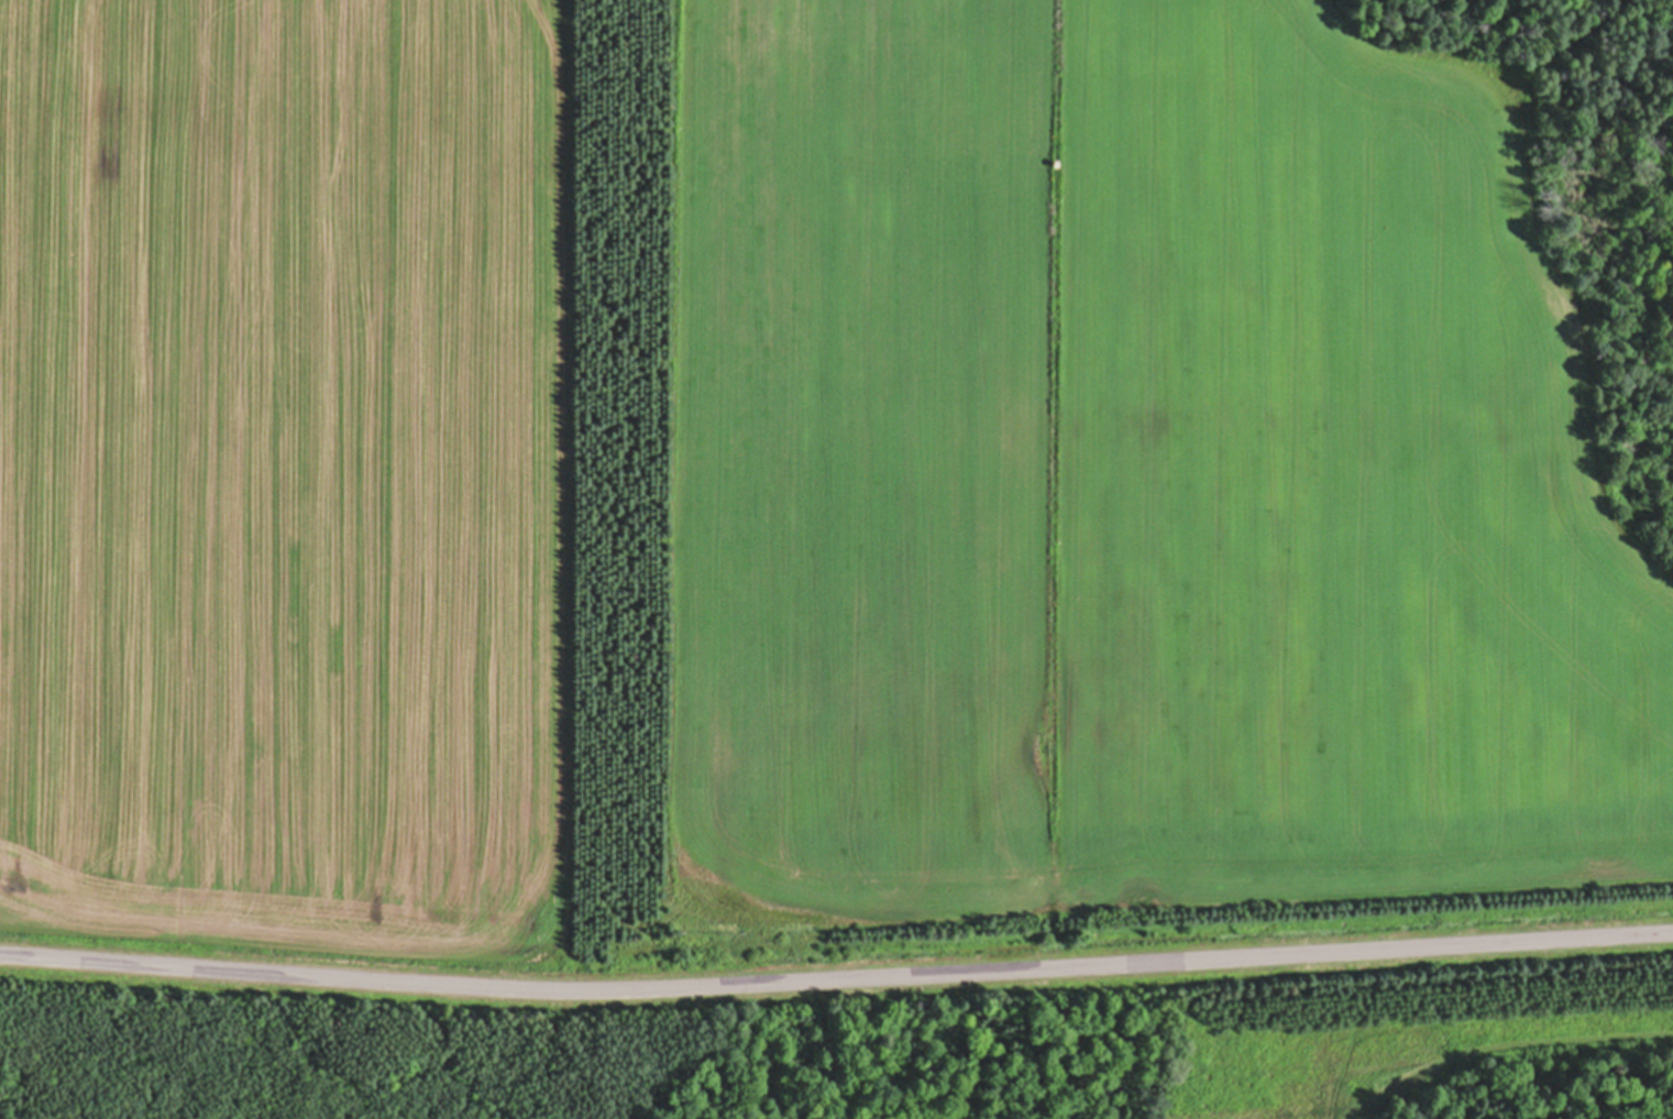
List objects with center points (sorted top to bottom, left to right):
road: (836, 978)

